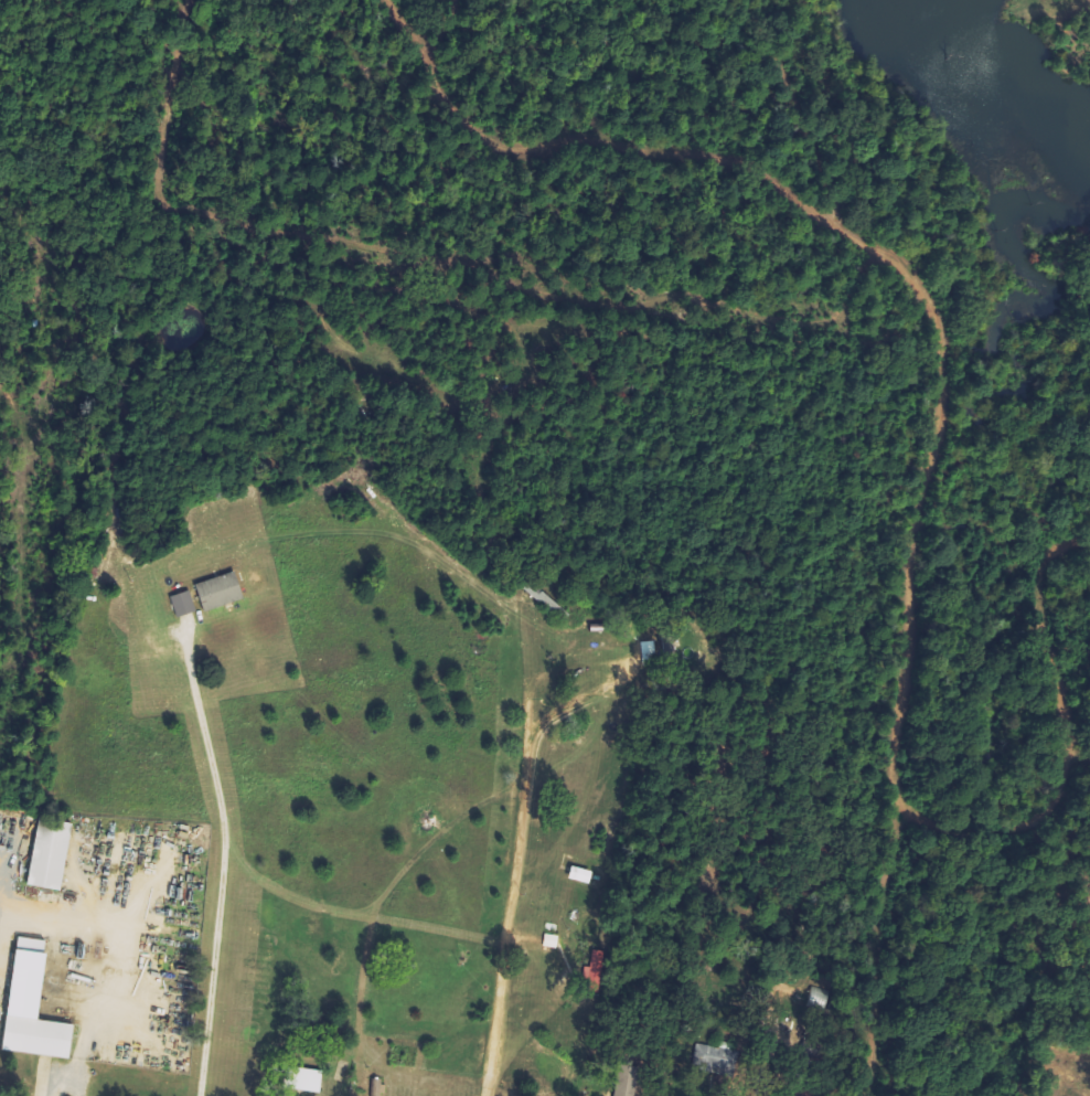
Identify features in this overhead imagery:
building: (222, 590)
building: (184, 604)
building: (650, 650)
building: (53, 854)
road: (514, 858)
building: (553, 940)
building: (597, 967)
building: (36, 1005)
building: (717, 1060)
building: (306, 1079)
building: (628, 1081)

